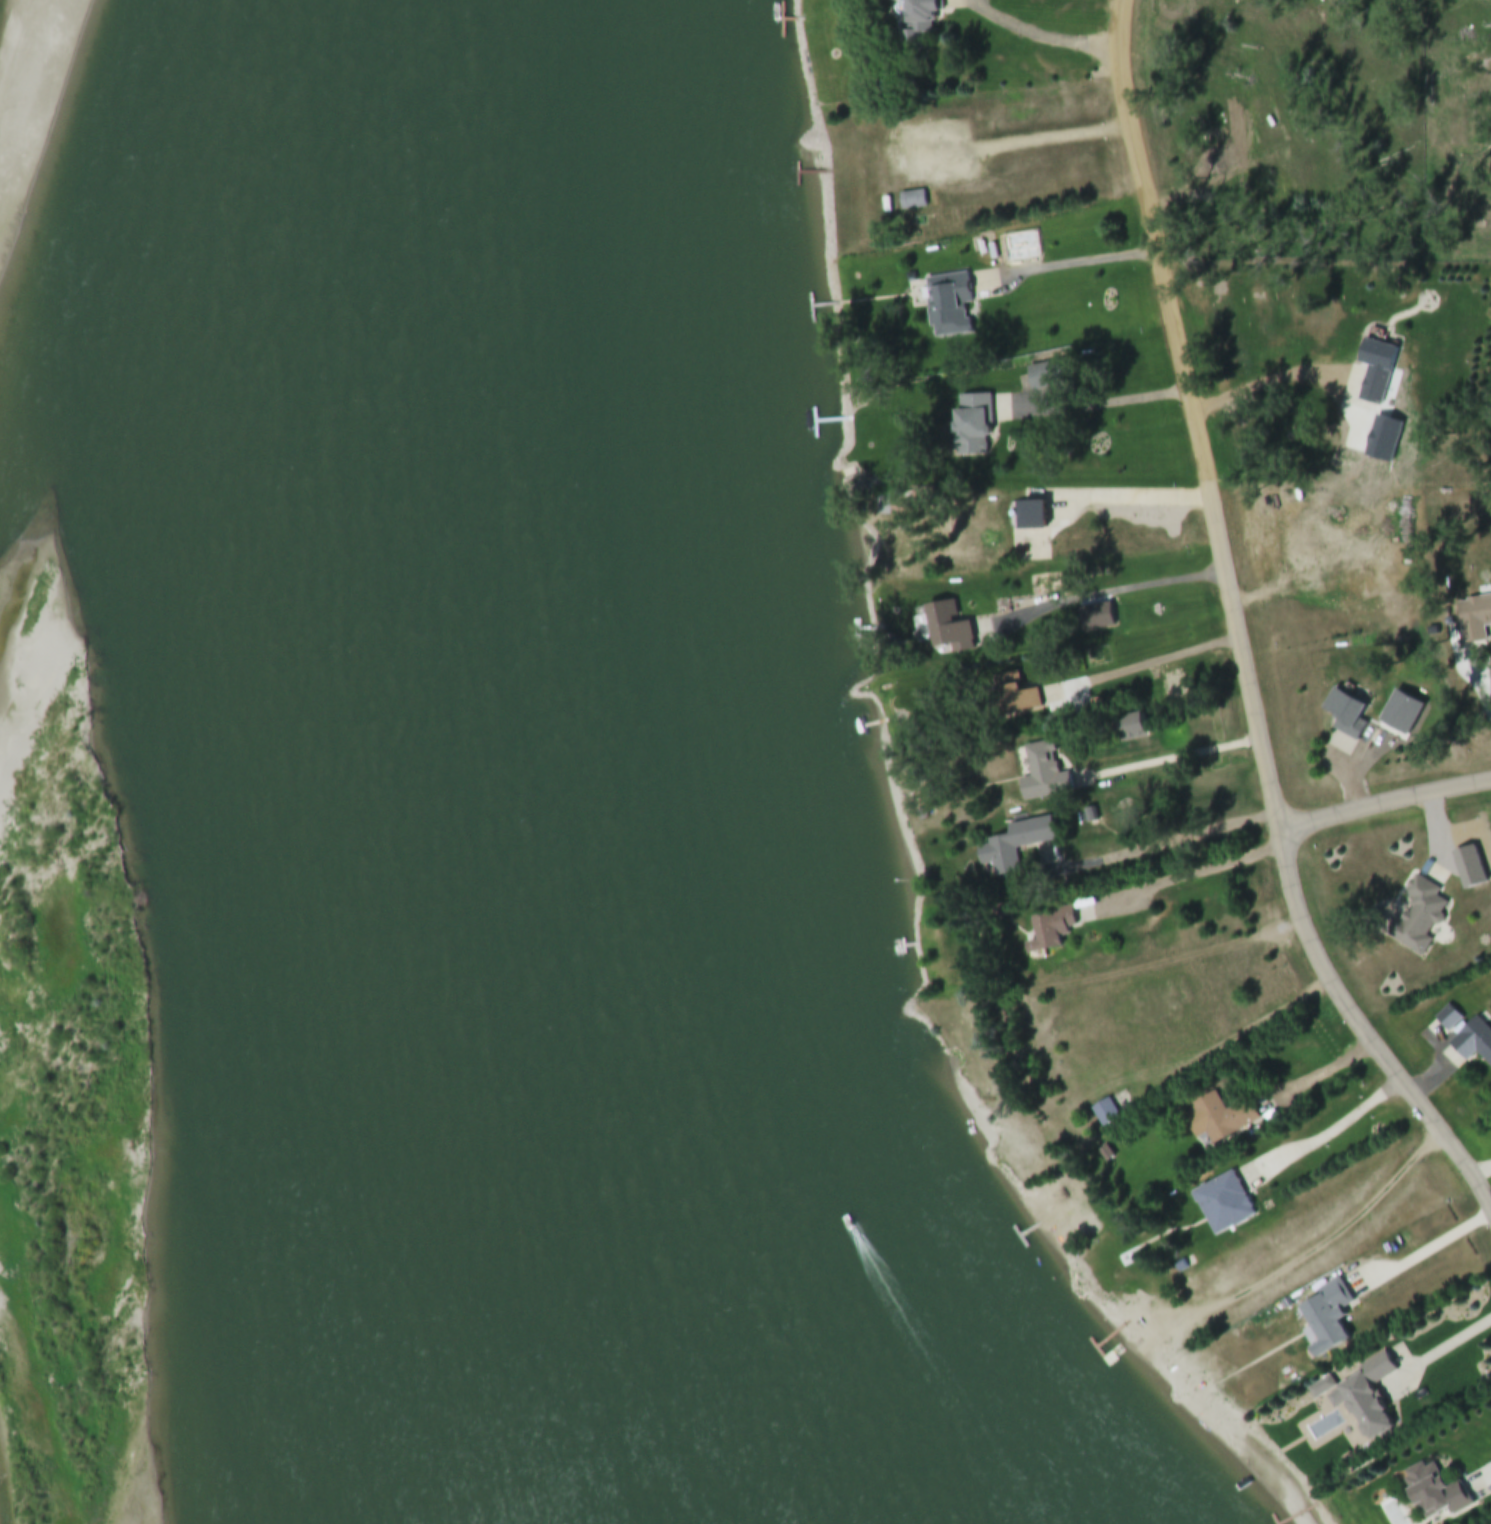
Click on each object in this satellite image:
building: (918, 22)
road: (1045, 36)
road: (1035, 127)
building: (912, 201)
road: (1158, 251)
road: (1072, 261)
building: (947, 306)
building: (1374, 370)
building: (971, 426)
road: (1131, 502)
building: (1030, 517)
road: (1104, 593)
building: (1473, 620)
building: (947, 629)
road: (1123, 671)
building: (1013, 701)
building: (1345, 715)
building: (1127, 729)
road: (1174, 758)
river: (560, 761)
building: (1041, 774)
building: (1215, 798)
road: (1385, 801)
road: (1166, 841)
building: (1013, 845)
building: (1468, 870)
road: (1292, 879)
building: (1417, 918)
building: (1048, 932)
road: (1152, 964)
road: (1235, 1037)
building: (1473, 1042)
road: (1328, 1072)
building: (1107, 1113)
building: (1223, 1118)
road: (1324, 1133)
building: (1226, 1203)
road: (1332, 1240)
road: (1424, 1255)
building: (1332, 1310)
road: (1440, 1347)
building: (1324, 1388)
building: (1369, 1397)
building: (1437, 1492)

